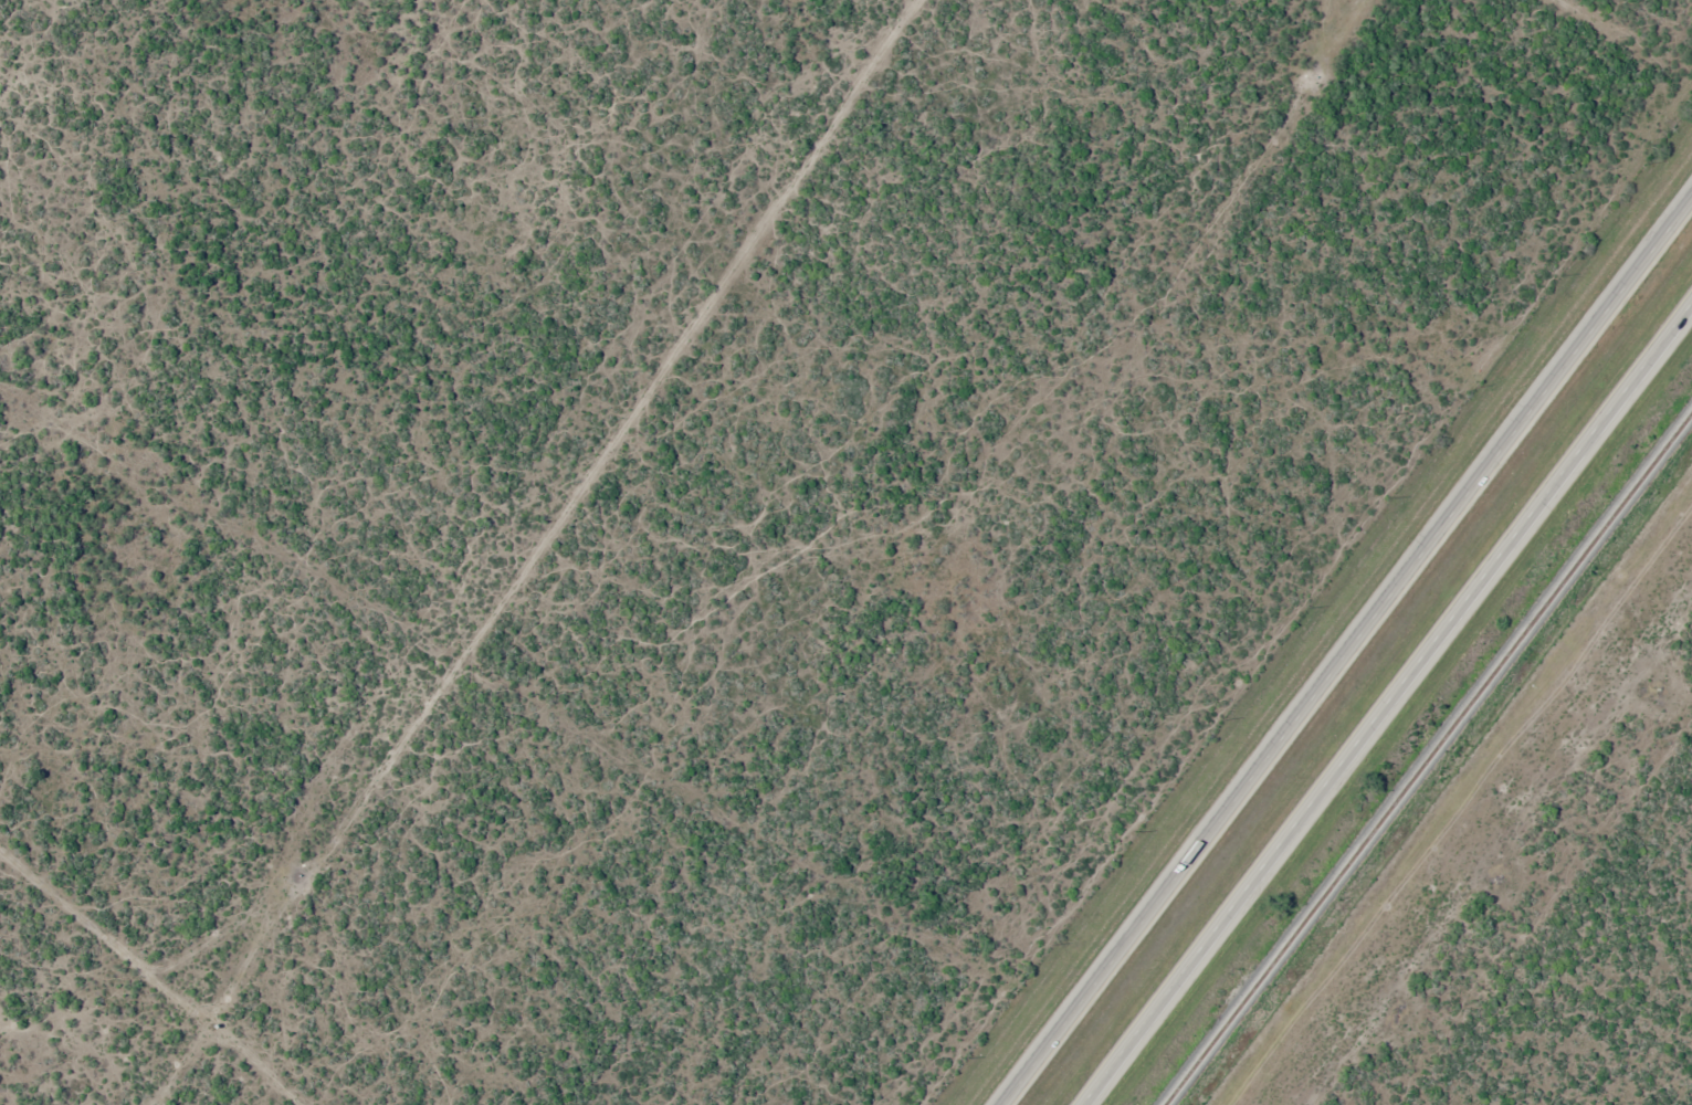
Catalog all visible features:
road: (1344, 651)
road: (1390, 704)
railway: (1429, 760)

